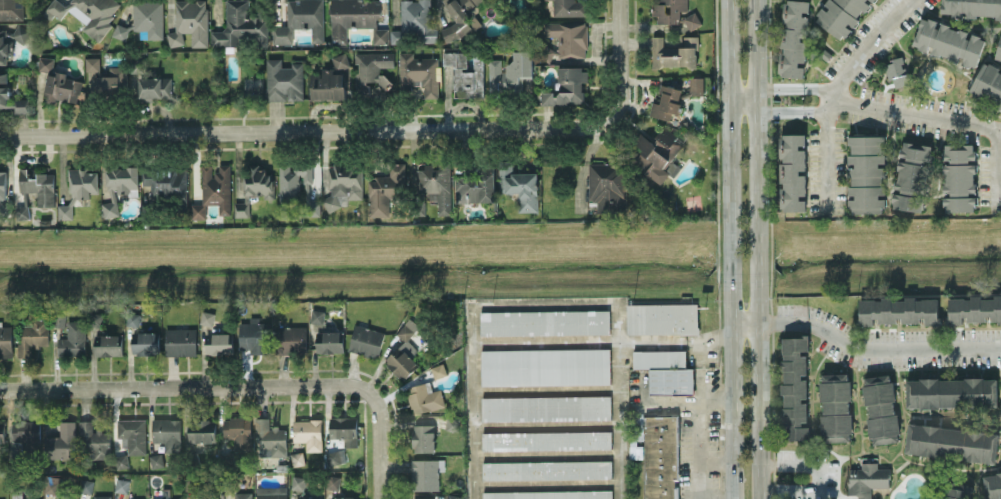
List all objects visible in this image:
building: (971, 7)
building: (568, 8)
building: (12, 9)
building: (668, 10)
building: (87, 13)
building: (841, 15)
building: (148, 17)
building: (418, 18)
building: (460, 18)
building: (356, 19)
building: (692, 20)
building: (301, 21)
building: (190, 22)
building: (241, 25)
building: (121, 31)
building: (20, 33)
building: (568, 37)
building: (794, 38)
building: (948, 41)
building: (4, 46)
building: (998, 51)
building: (674, 52)
road: (625, 58)
building: (340, 60)
building: (46, 64)
building: (138, 65)
building: (371, 69)
building: (898, 70)
building: (511, 71)
building: (418, 72)
building: (465, 73)
building: (107, 77)
building: (284, 80)
building: (4, 82)
building: (987, 84)
building: (327, 85)
building: (696, 85)
building: (568, 86)
road: (777, 86)
building: (61, 87)
building: (155, 87)
road: (833, 91)
road: (817, 92)
road: (742, 100)
building: (666, 102)
road: (817, 104)
road: (779, 110)
road: (946, 118)
road: (309, 130)
building: (657, 154)
building: (793, 170)
building: (866, 172)
building: (911, 175)
building: (959, 177)
building: (258, 181)
building: (2, 183)
building: (167, 183)
building: (37, 185)
building: (342, 185)
building: (435, 185)
building: (118, 186)
building: (288, 186)
building: (475, 186)
building: (607, 186)
building: (520, 187)
building: (79, 189)
building: (383, 189)
building: (214, 190)
building: (1, 204)
building: (241, 208)
building: (21, 212)
road: (728, 249)
road: (759, 249)
road: (549, 303)
building: (974, 308)
building: (898, 310)
building: (317, 315)
building: (207, 317)
building: (96, 318)
building: (132, 318)
building: (662, 318)
building: (58, 320)
building: (544, 322)
road: (744, 322)
building: (252, 334)
building: (33, 336)
building: (5, 339)
building: (73, 339)
building: (291, 339)
building: (366, 340)
building: (180, 341)
building: (329, 341)
building: (145, 342)
building: (218, 342)
building: (108, 344)
road: (877, 344)
road: (682, 345)
building: (403, 351)
building: (545, 366)
building: (665, 370)
road: (184, 386)
building: (794, 387)
building: (951, 392)
building: (424, 397)
building: (835, 406)
building: (545, 407)
building: (880, 408)
building: (344, 429)
building: (201, 430)
building: (238, 430)
building: (1, 432)
building: (167, 432)
building: (308, 433)
building: (132, 434)
building: (26, 435)
road: (698, 436)
building: (270, 437)
building: (423, 437)
building: (546, 439)
building: (61, 441)
building: (94, 441)
building: (951, 442)
building: (334, 443)
road: (378, 443)
building: (660, 456)
building: (335, 457)
building: (155, 460)
road: (714, 460)
building: (120, 461)
building: (546, 469)
building: (426, 473)
road: (819, 478)
building: (867, 479)
building: (333, 481)
building: (298, 482)
building: (121, 484)
building: (86, 485)
building: (992, 485)
building: (954, 490)
building: (271, 492)
building: (549, 494)
building: (243, 495)
building: (102, 496)
building: (343, 497)
building: (167, 498)
building: (309, 498)
building: (423, 498)

